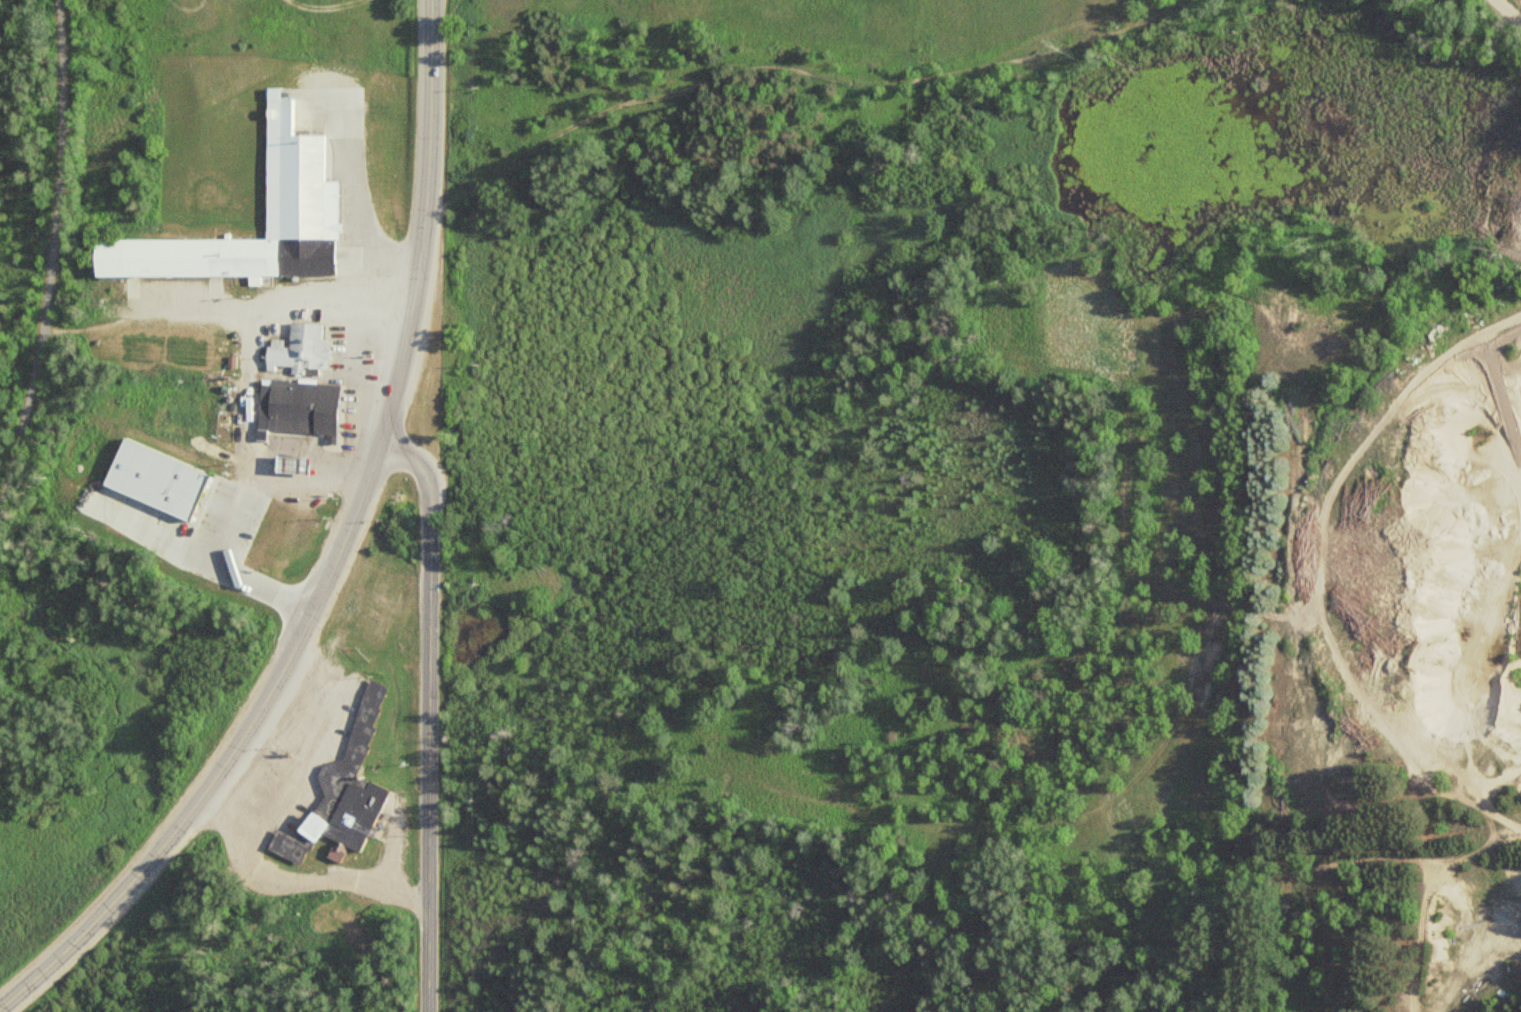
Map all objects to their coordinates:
road: (1512, 9)
building: (423, 46)
road: (430, 117)
building: (301, 201)
road: (57, 258)
building: (299, 347)
building: (299, 406)
building: (290, 463)
gas station: (290, 463)
building: (165, 468)
building: (241, 525)
quarry: (1411, 599)
road: (286, 659)
road: (429, 711)
building: (341, 793)

